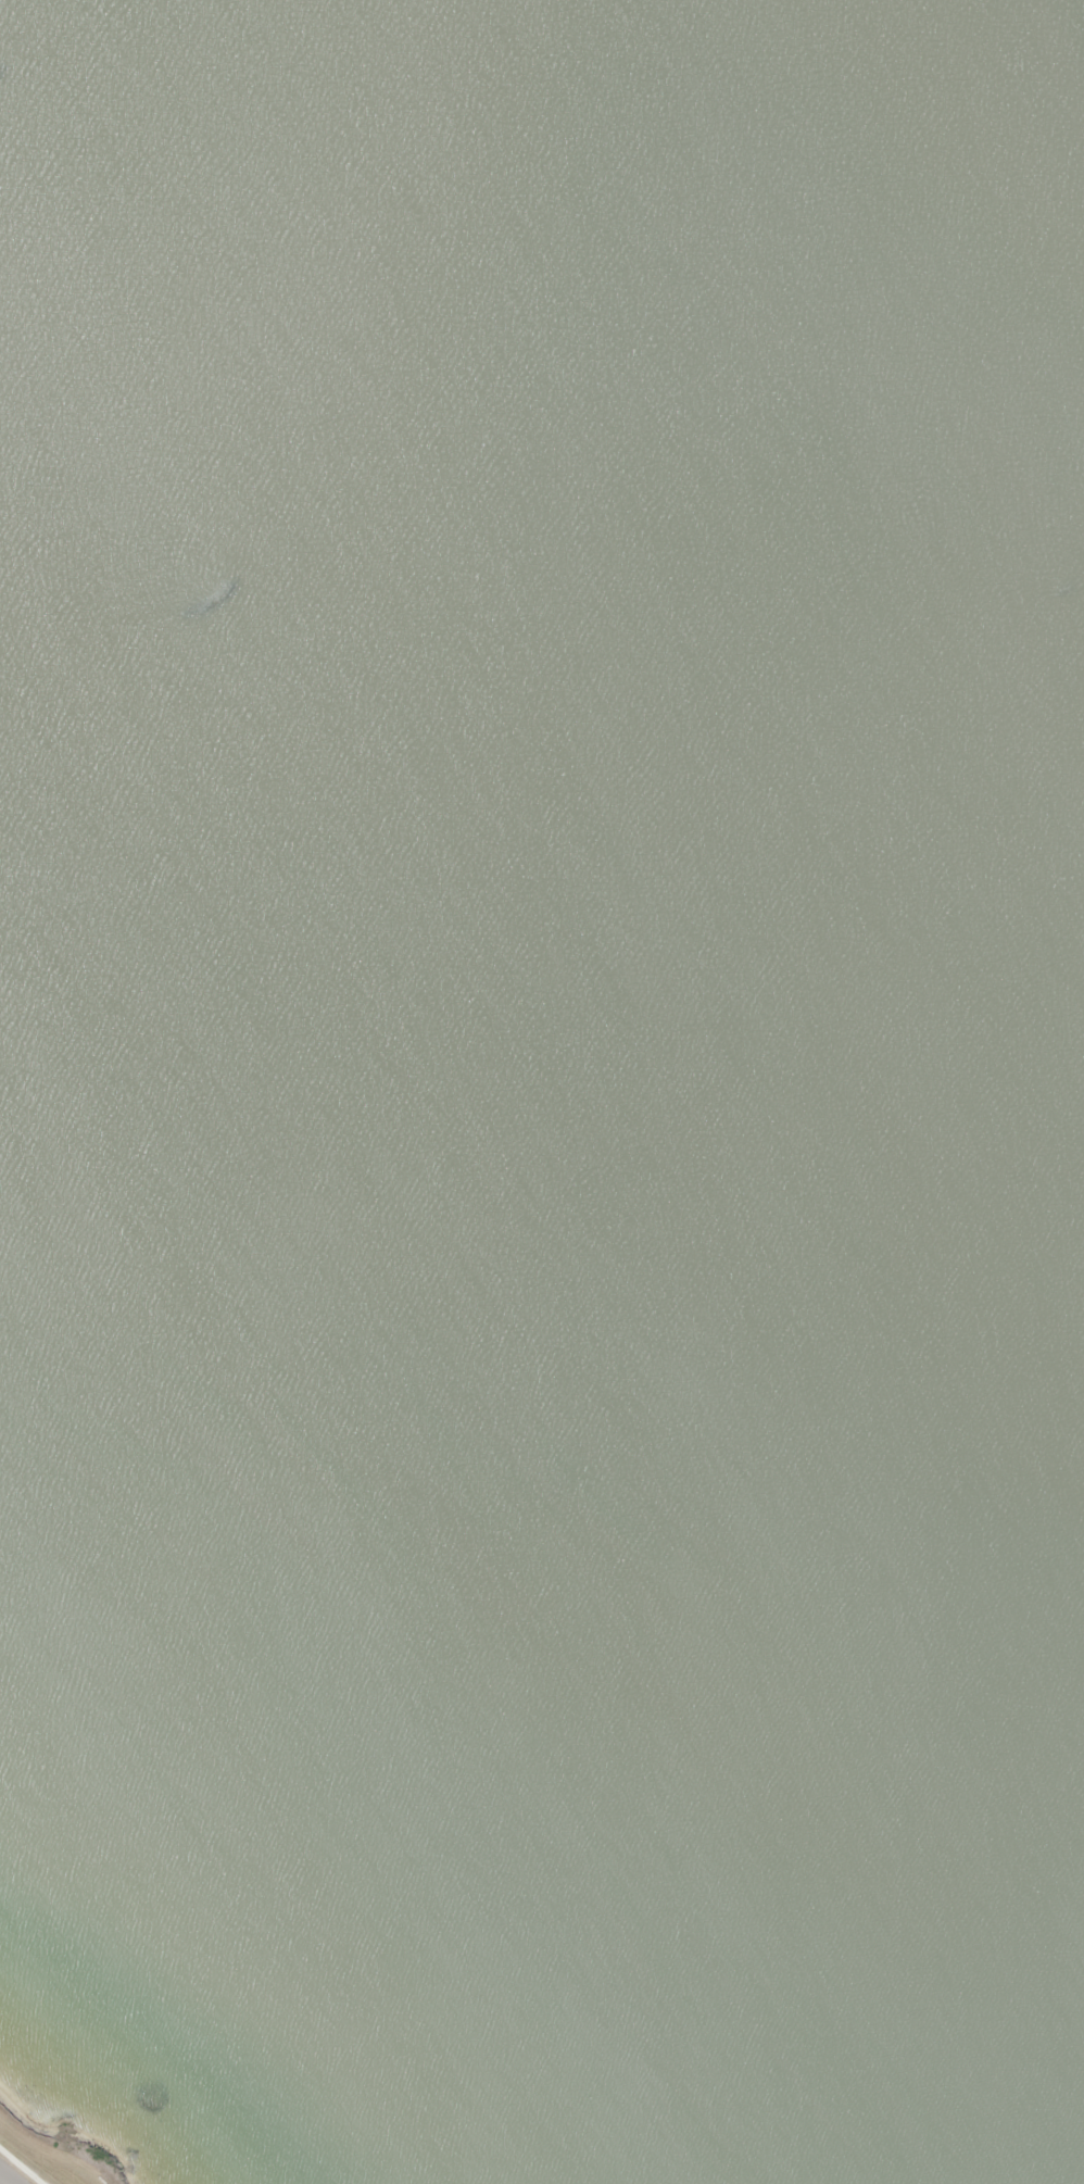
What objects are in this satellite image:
road: (23, 2164)

